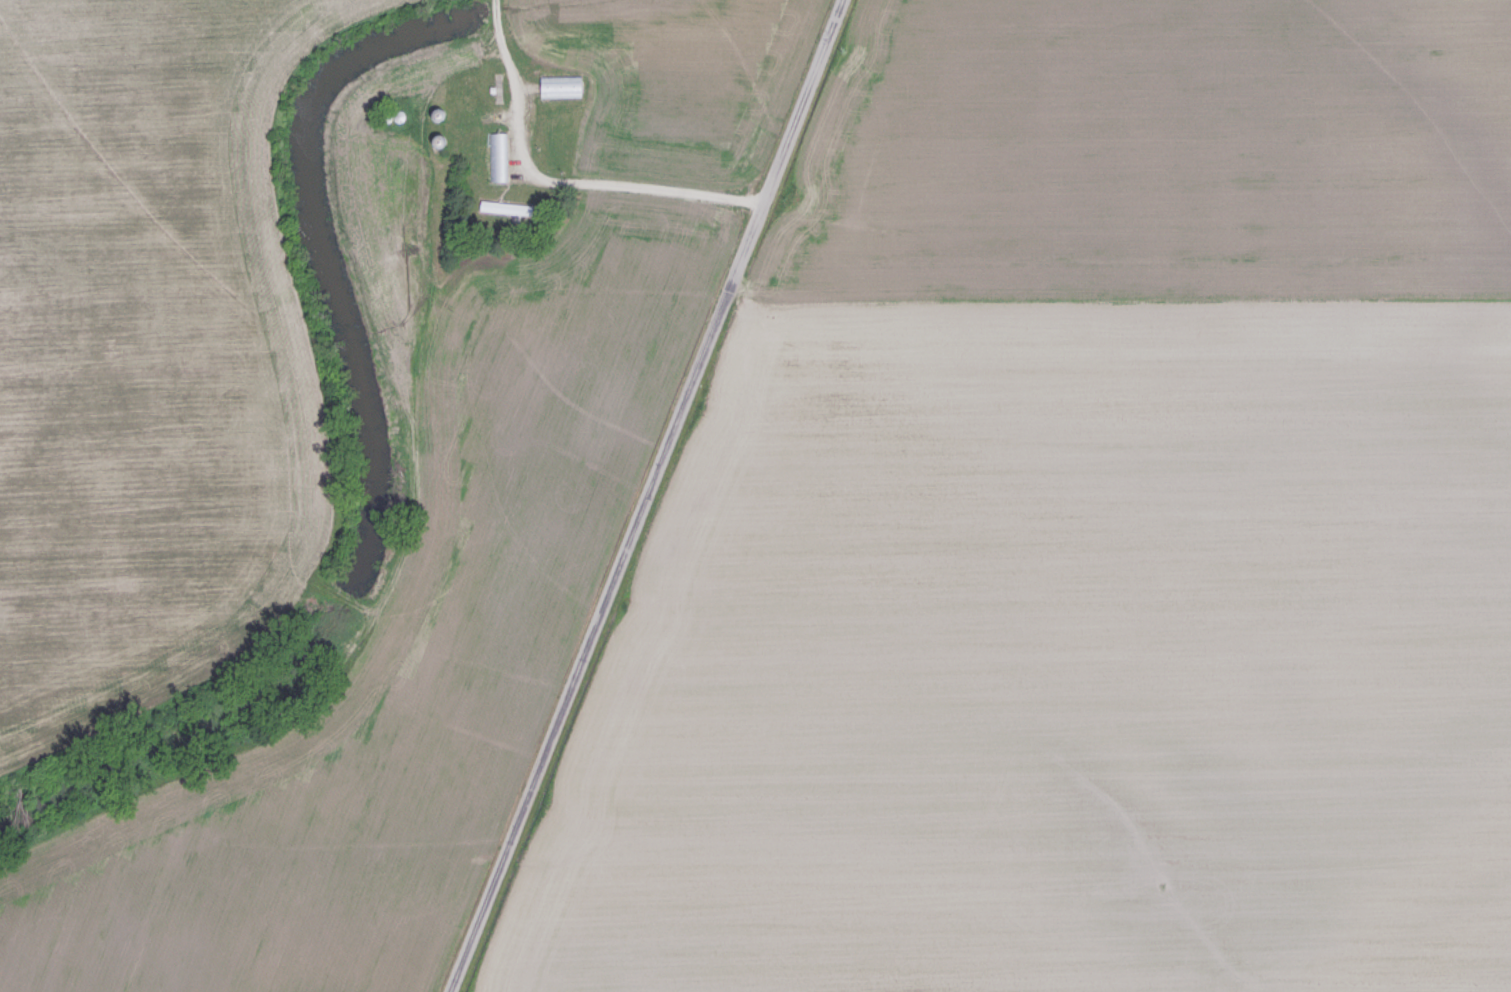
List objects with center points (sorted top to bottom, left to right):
building: (566, 86)
building: (443, 116)
building: (502, 157)
building: (510, 208)
road: (598, 496)

